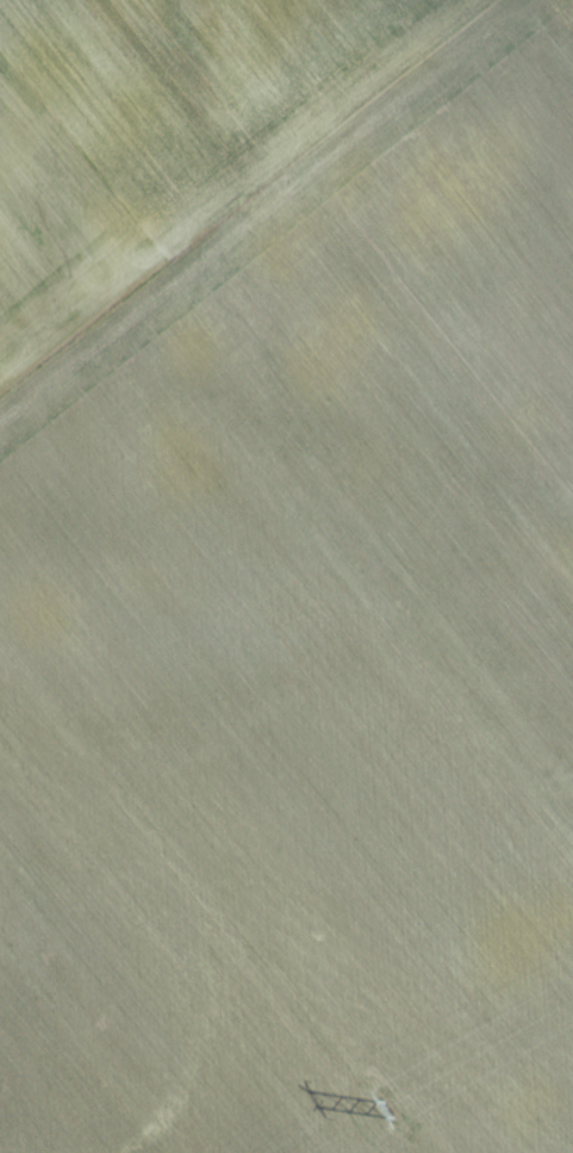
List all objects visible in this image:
power tower: (387, 1118)

